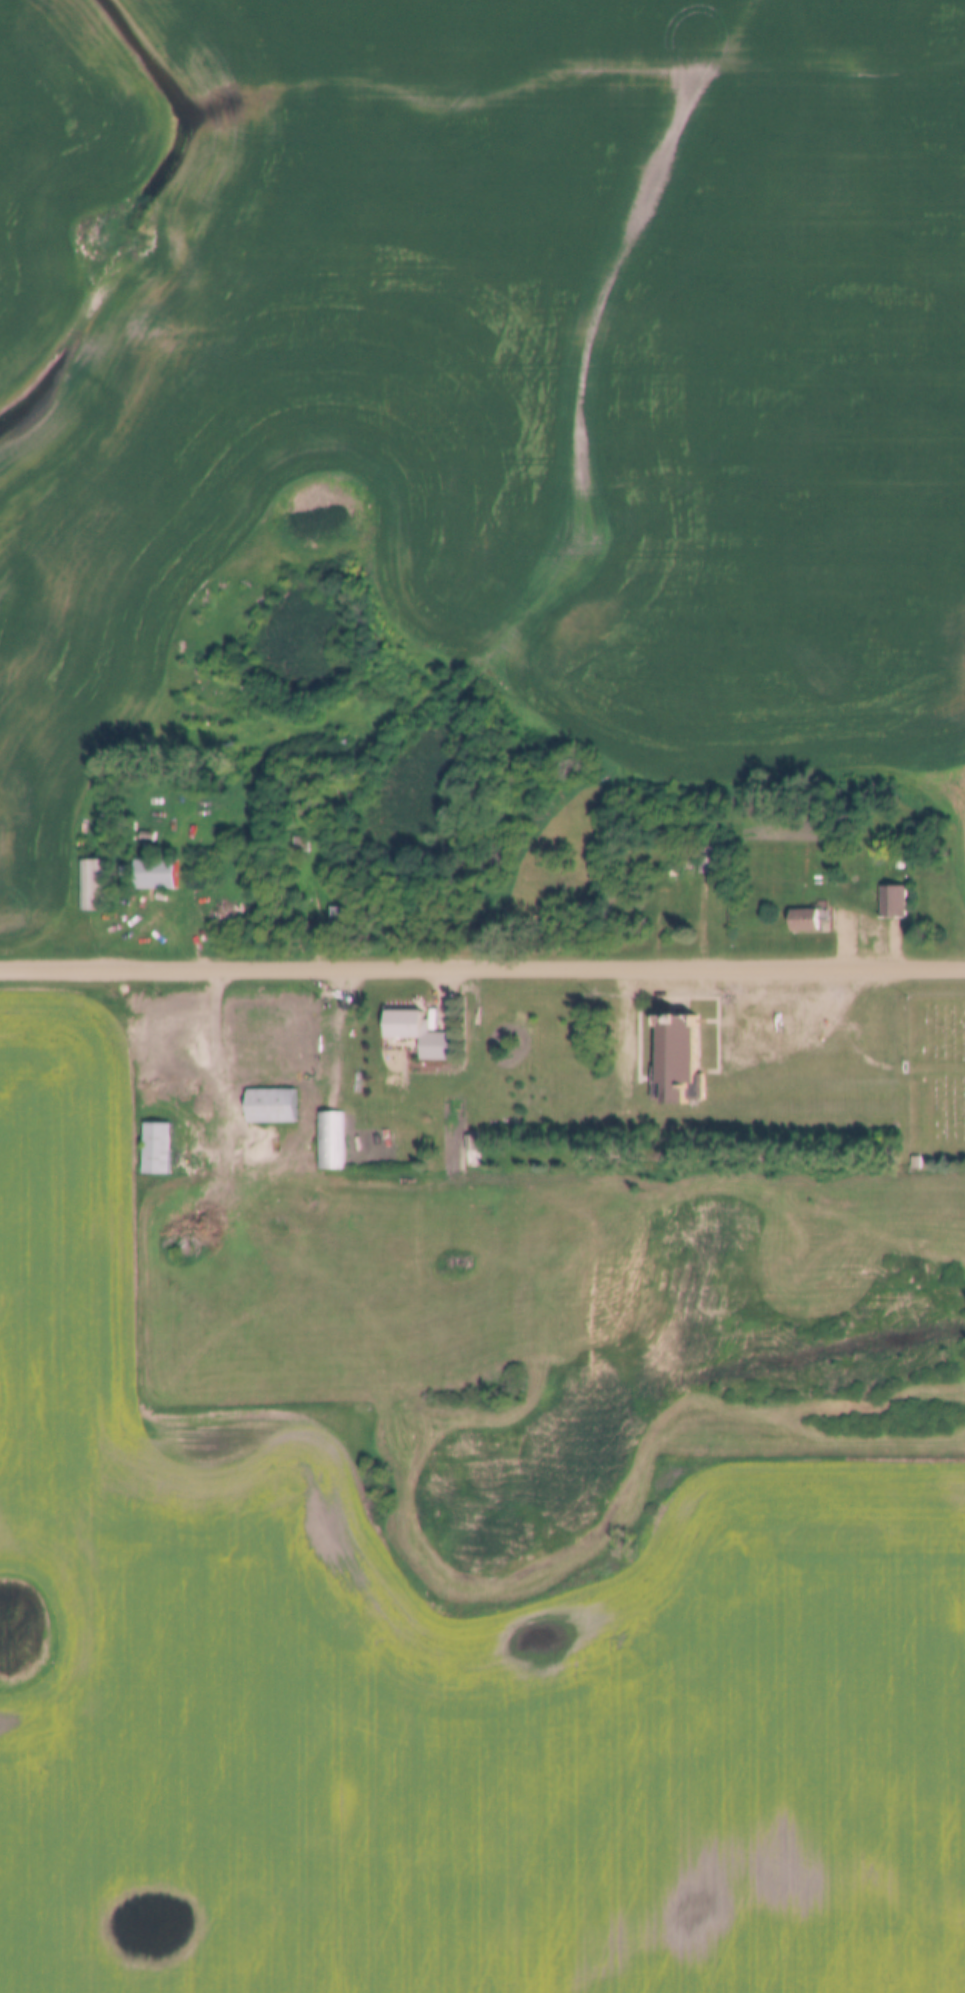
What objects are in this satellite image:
building: (299, 844)
building: (709, 858)
building: (901, 861)
building: (153, 873)
building: (96, 884)
building: (897, 899)
building: (715, 915)
building: (805, 920)
road: (482, 963)
road: (819, 1004)
building: (412, 1033)
building: (677, 1060)
road: (881, 1061)
park: (937, 1083)
building: (270, 1104)
building: (331, 1139)
building: (156, 1147)
building: (916, 1160)

